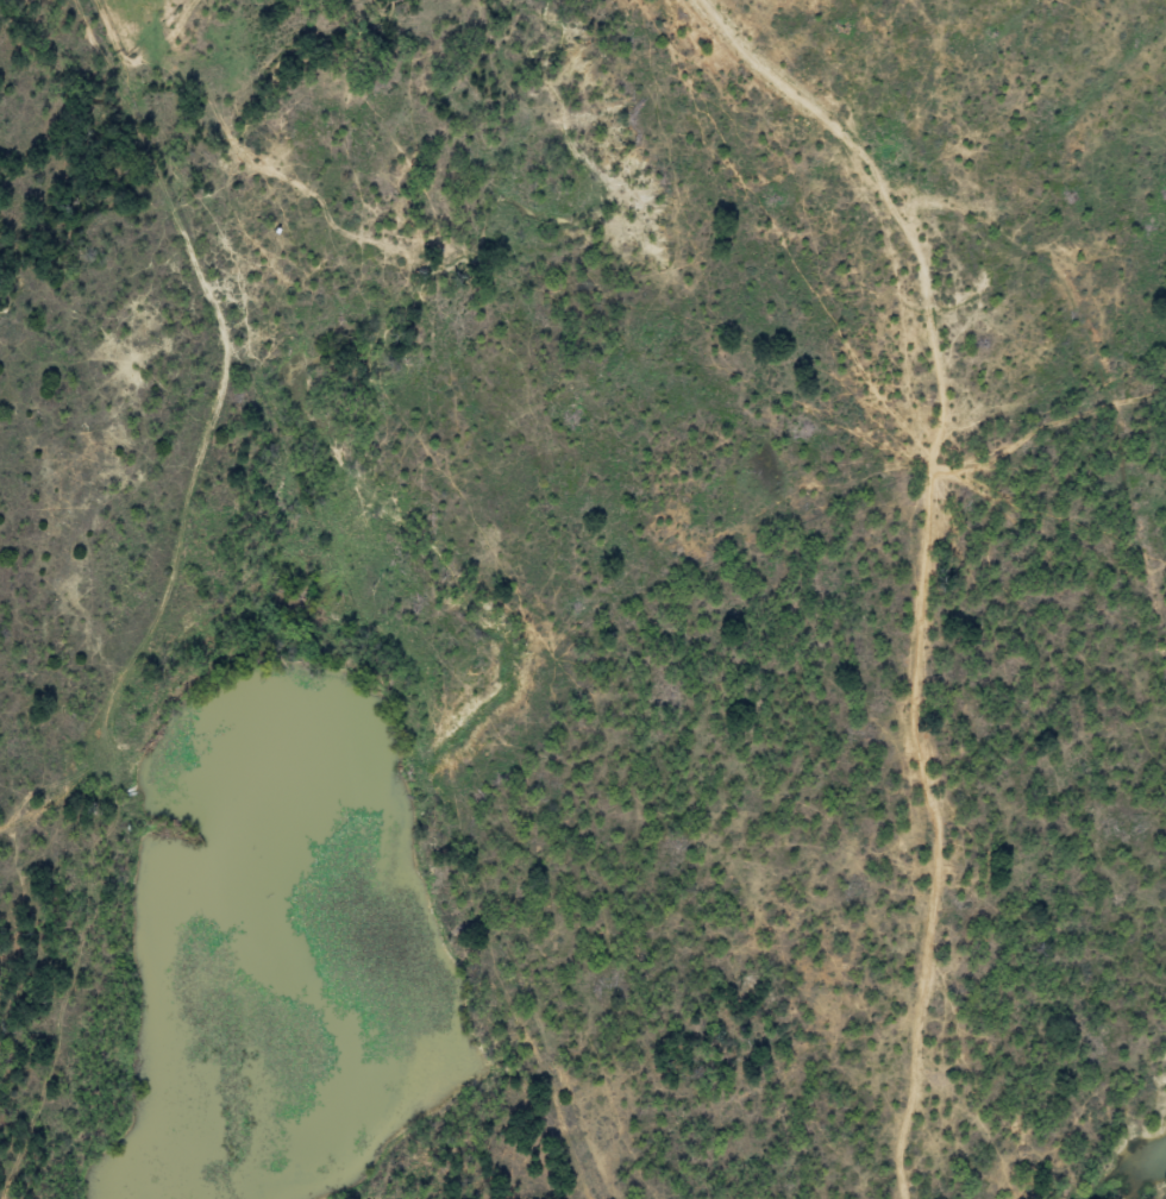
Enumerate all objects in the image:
road: (977, 561)

